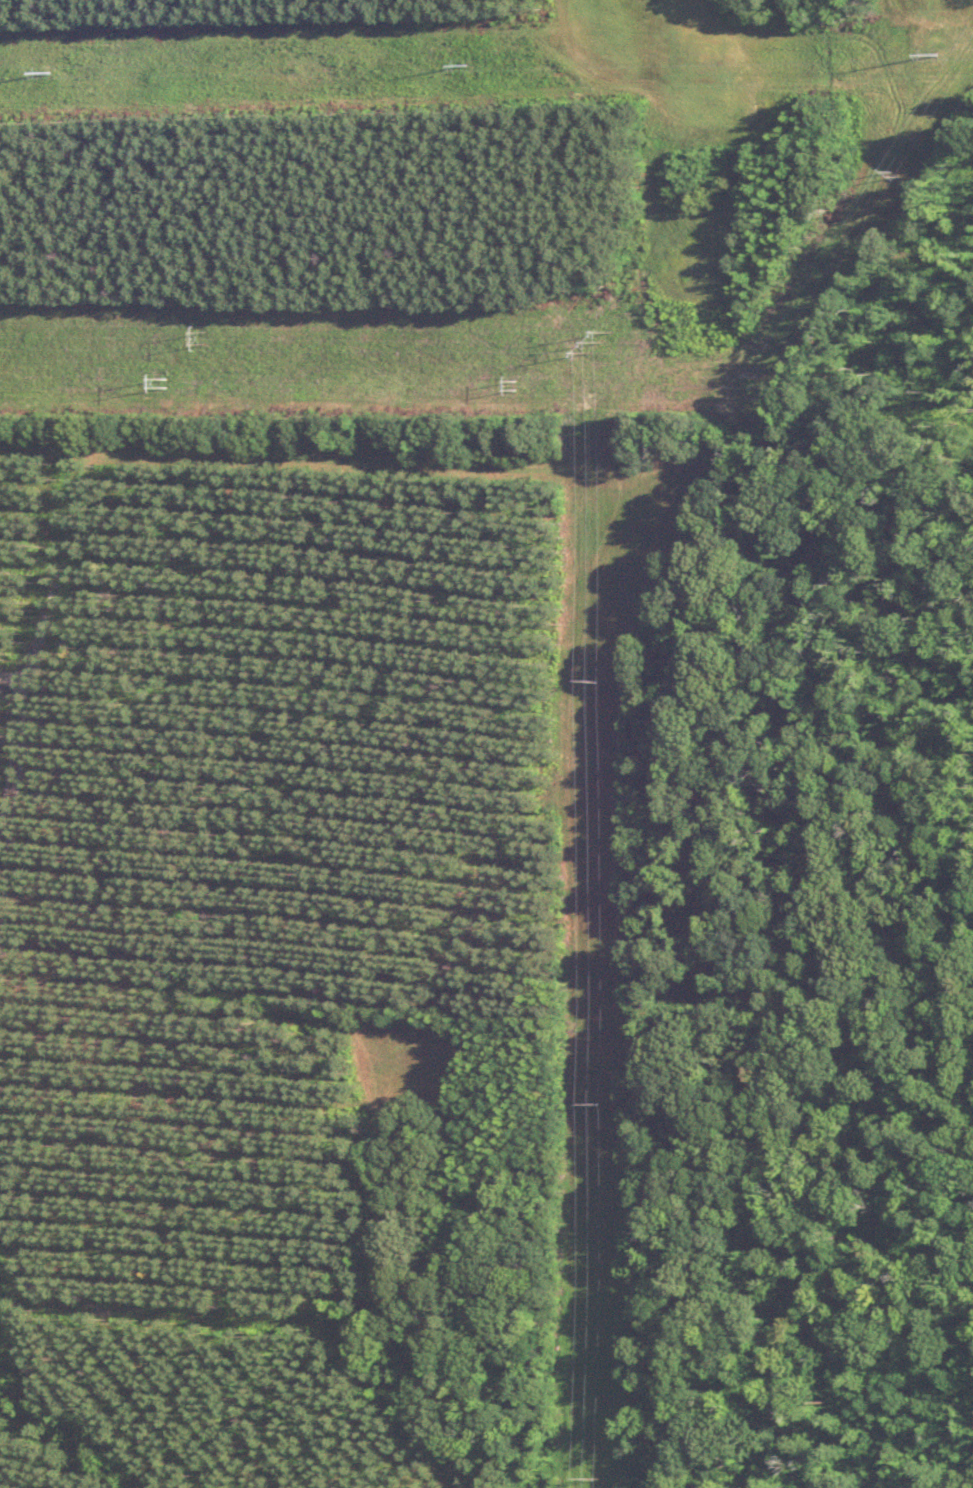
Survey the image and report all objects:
power tower: (933, 52)
power tower: (476, 62)
power tower: (59, 70)
power tower: (209, 337)
power tower: (604, 342)
power tower: (599, 680)
power tower: (598, 1103)
power tower: (598, 1476)

